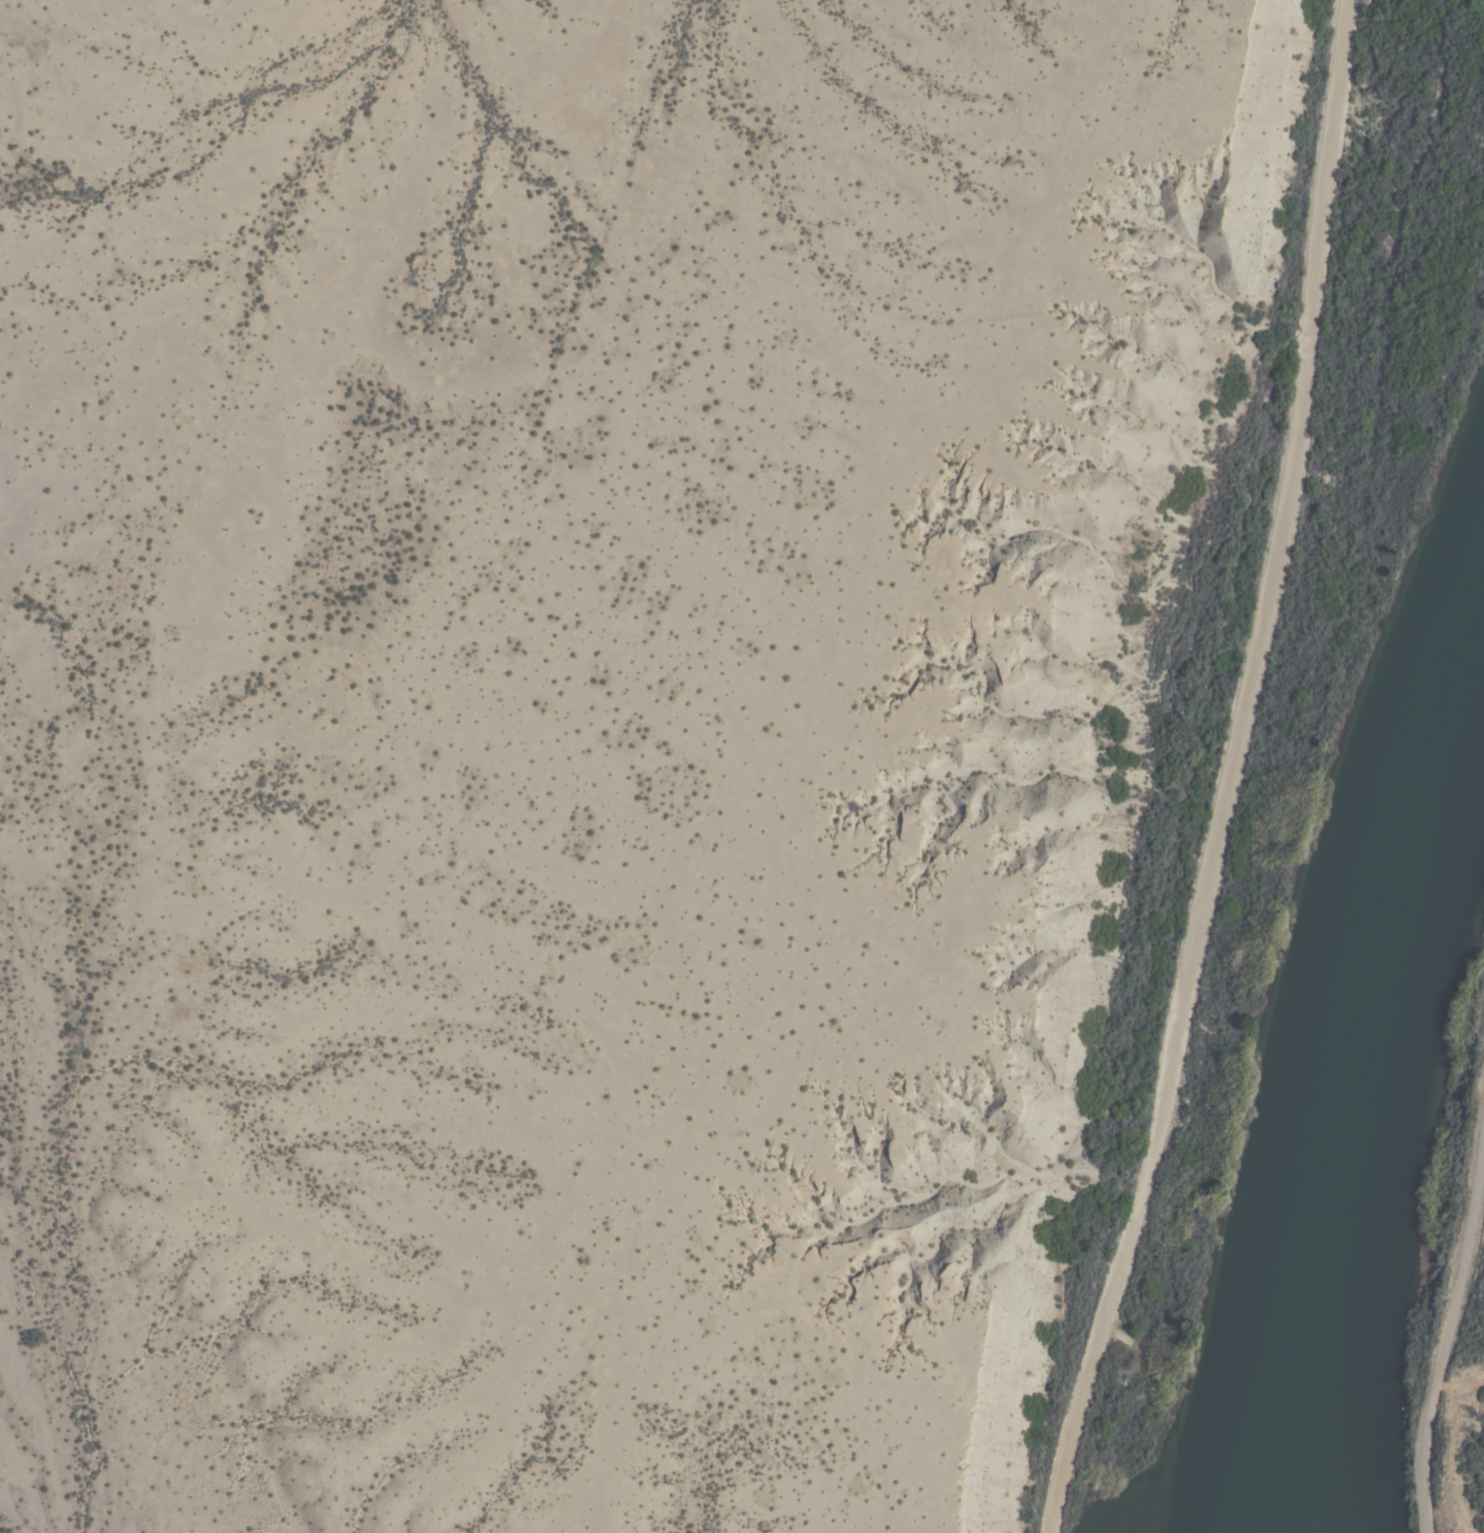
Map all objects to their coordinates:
road: (1198, 772)
river: (1320, 1042)

